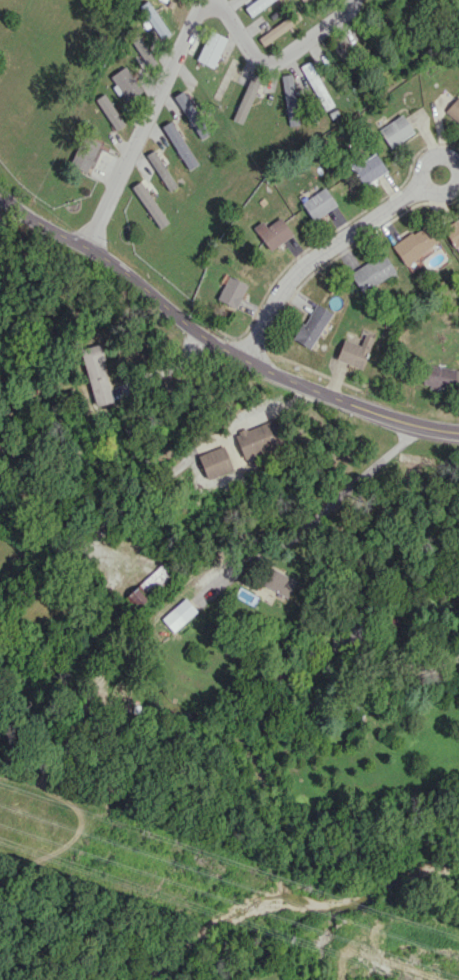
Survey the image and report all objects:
building: (300, 0)
building: (154, 19)
building: (275, 31)
building: (211, 48)
road: (289, 66)
building: (125, 82)
building: (316, 85)
building: (246, 98)
building: (290, 101)
building: (453, 110)
building: (109, 111)
building: (191, 114)
road: (140, 122)
building: (396, 130)
building: (179, 144)
building: (84, 153)
road: (422, 162)
building: (161, 168)
building: (367, 168)
building: (318, 203)
building: (149, 204)
building: (273, 232)
building: (453, 232)
building: (413, 244)
road: (319, 256)
building: (372, 272)
building: (231, 291)
building: (312, 325)
road: (214, 342)
building: (354, 351)
road: (169, 367)
building: (96, 374)
building: (440, 376)
building: (259, 437)
road: (188, 456)
building: (215, 462)
road: (333, 500)
building: (157, 578)
building: (278, 581)
building: (178, 614)
road: (413, 675)

